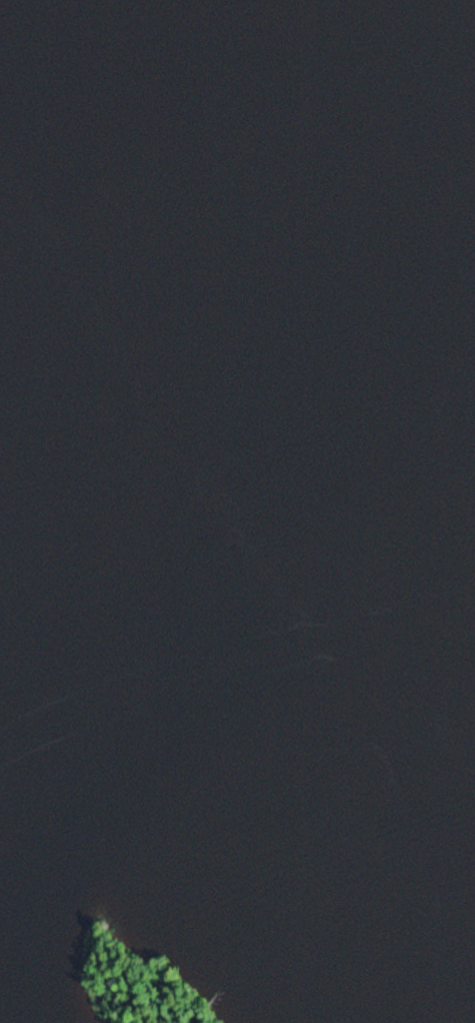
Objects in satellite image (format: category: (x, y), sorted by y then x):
river: (230, 571)

